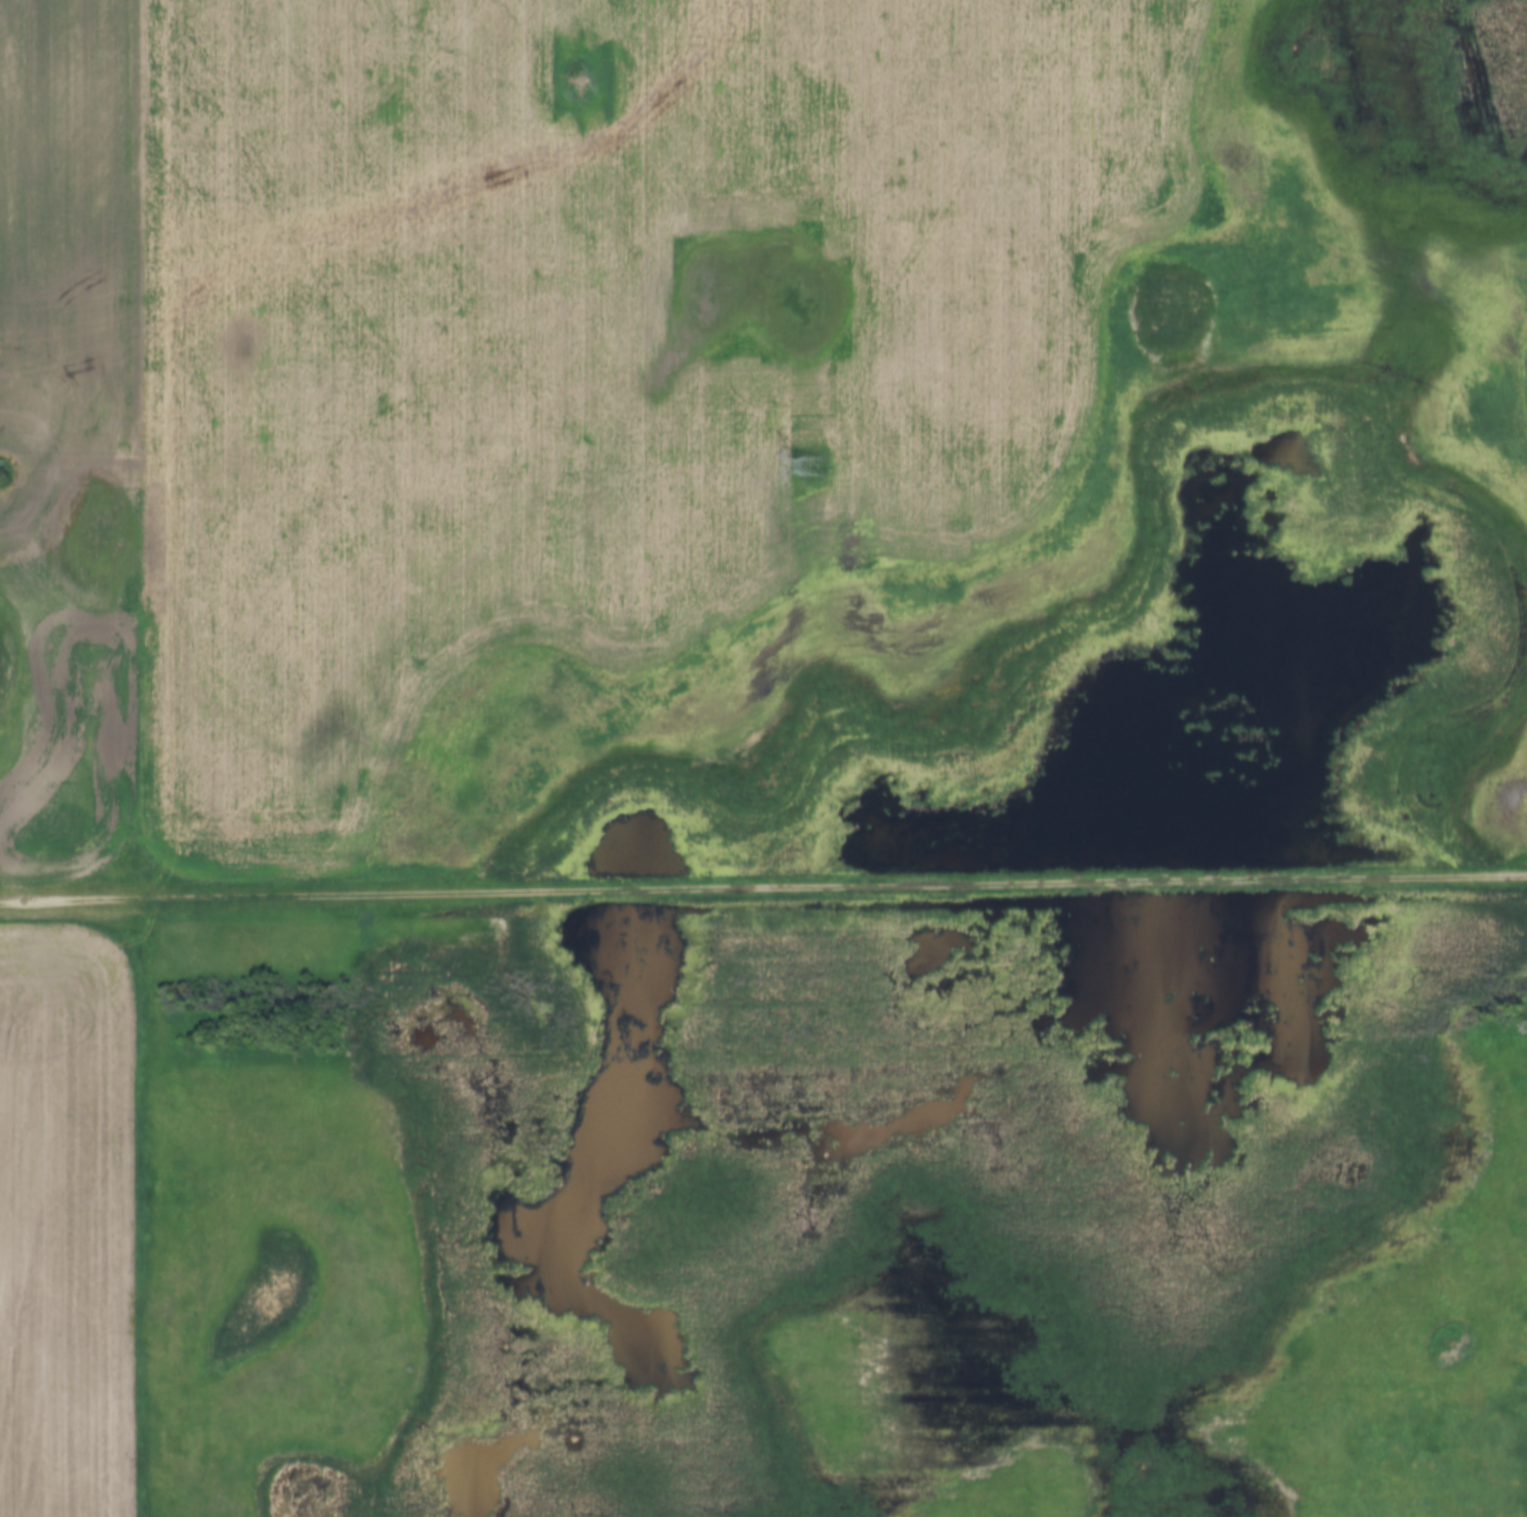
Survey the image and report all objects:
power tower: (811, 464)
road: (763, 890)

